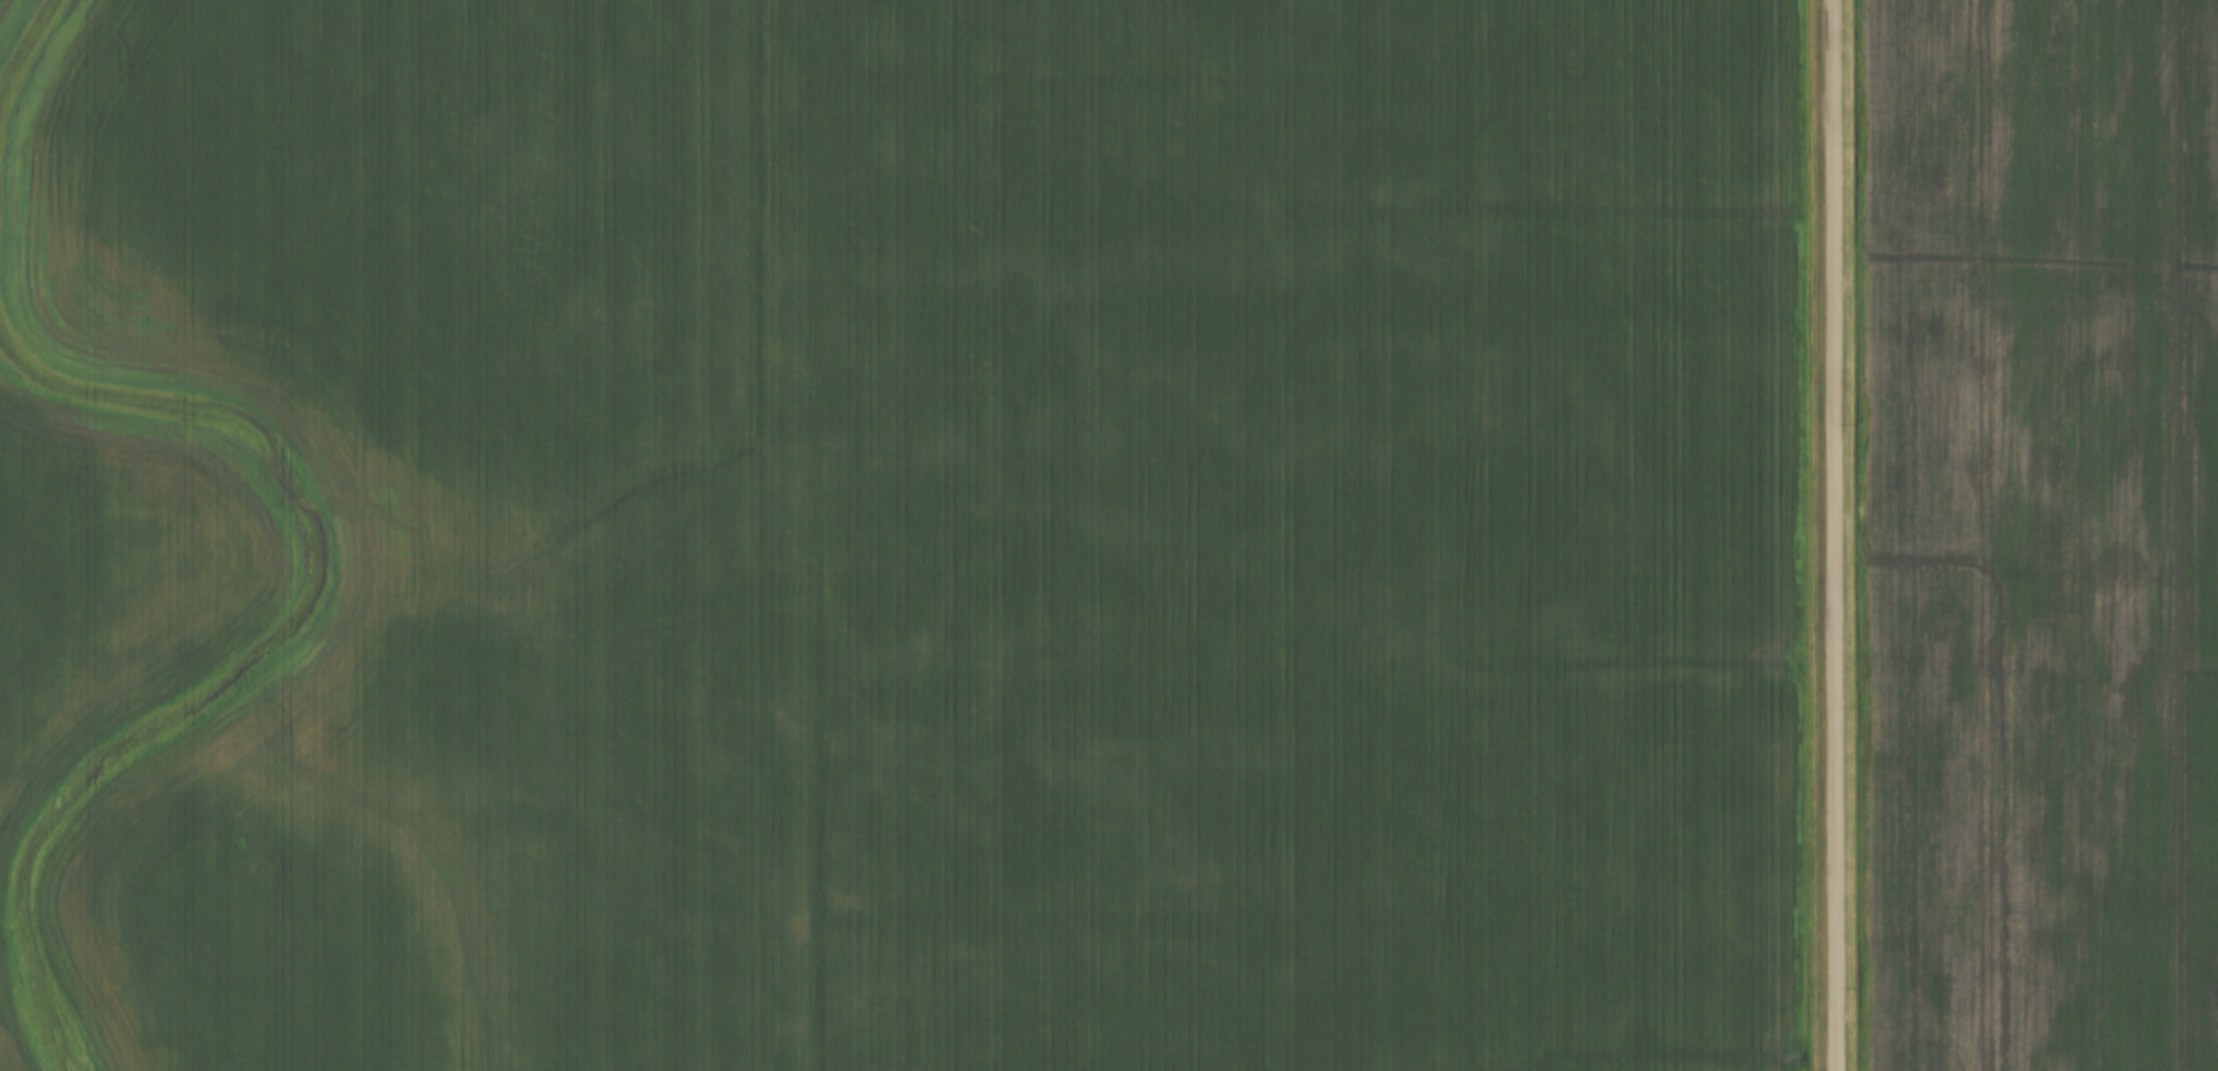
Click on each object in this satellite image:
road: (1839, 534)

